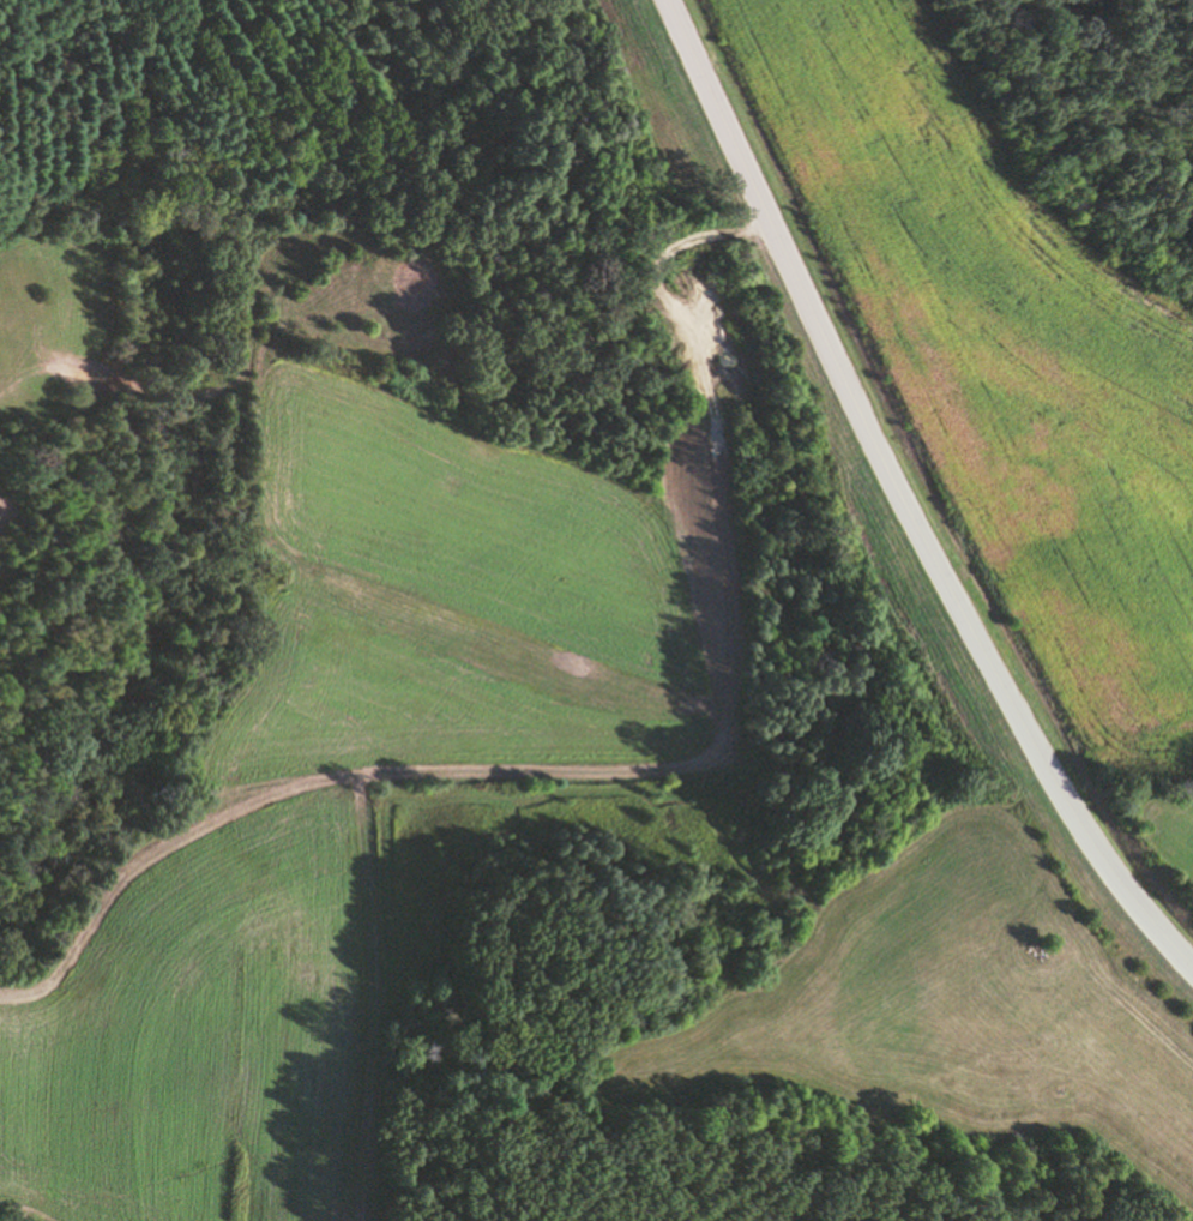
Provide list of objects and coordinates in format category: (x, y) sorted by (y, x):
road: (903, 499)

